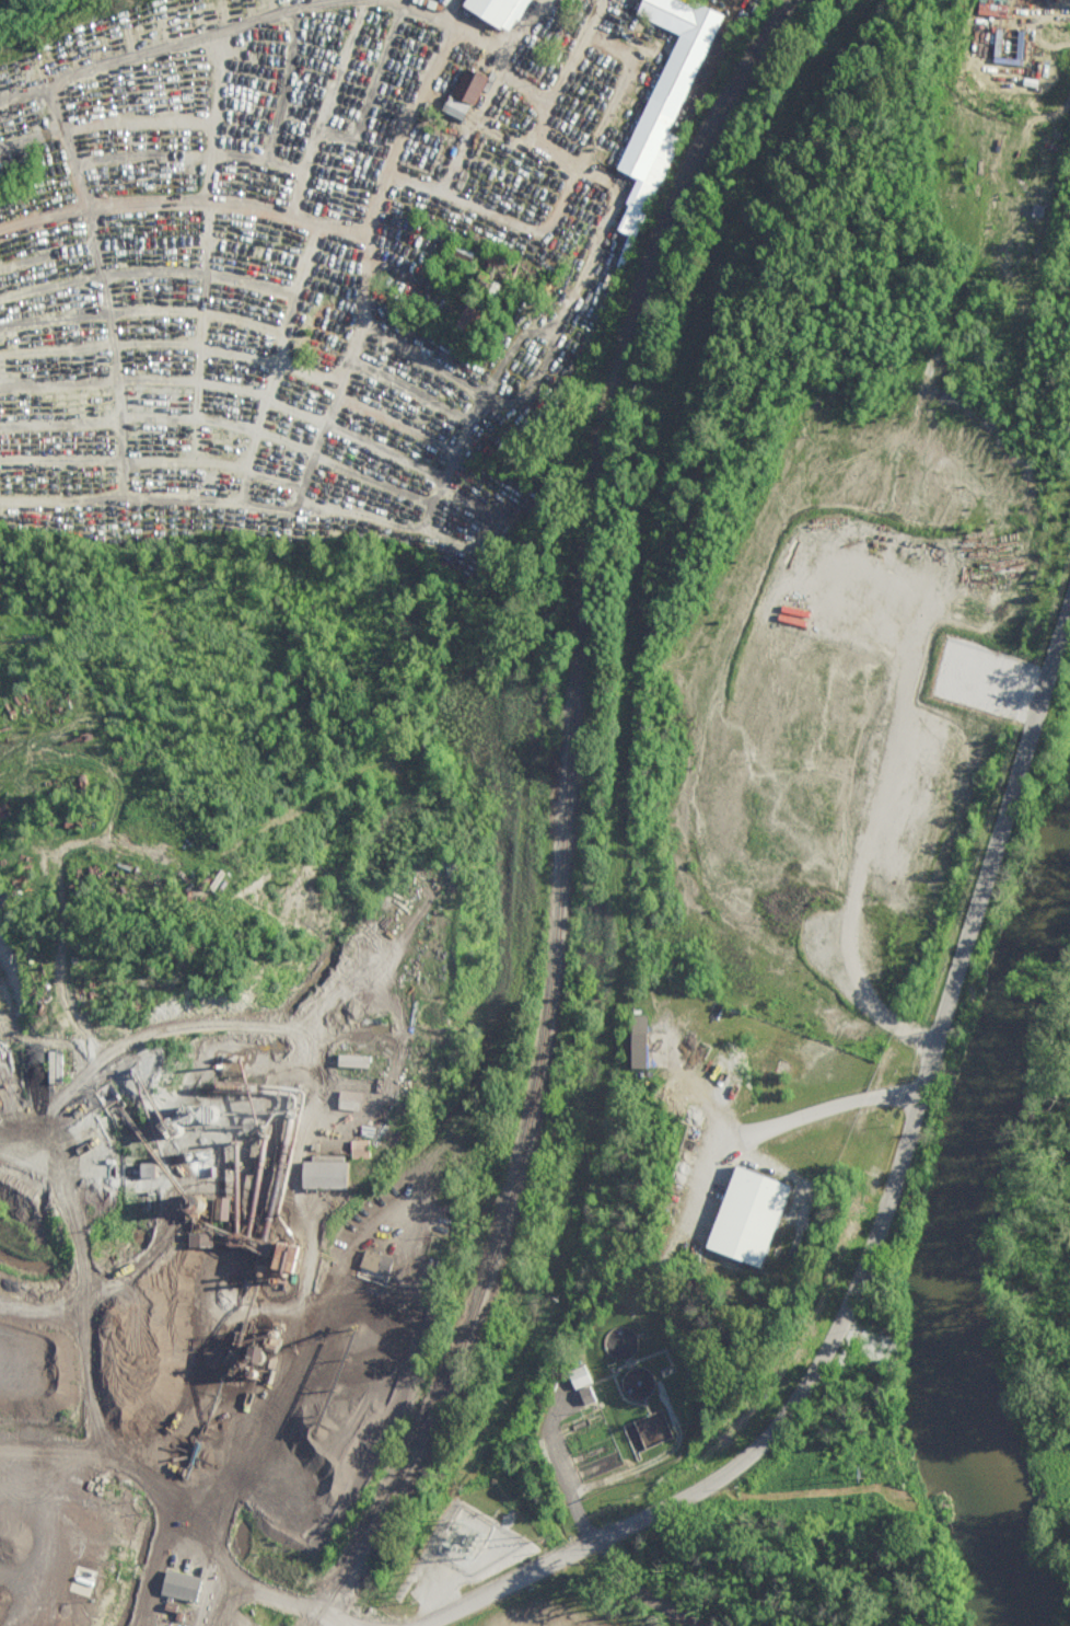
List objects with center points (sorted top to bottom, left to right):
building: (989, 8)
building: (493, 10)
road: (442, 13)
road: (164, 45)
building: (465, 84)
building: (659, 105)
building: (450, 106)
road: (464, 138)
road: (342, 230)
building: (479, 281)
building: (460, 313)
road: (477, 430)
railway: (566, 814)
road: (305, 1033)
building: (633, 1041)
building: (348, 1060)
building: (51, 1065)
building: (346, 1099)
road: (819, 1112)
building: (321, 1172)
building: (217, 1208)
building: (742, 1216)
railway: (347, 1230)
river: (967, 1230)
road: (892, 1231)
building: (372, 1262)
road: (46, 1313)
road: (97, 1352)
building: (575, 1376)
building: (582, 1395)
building: (176, 1584)

